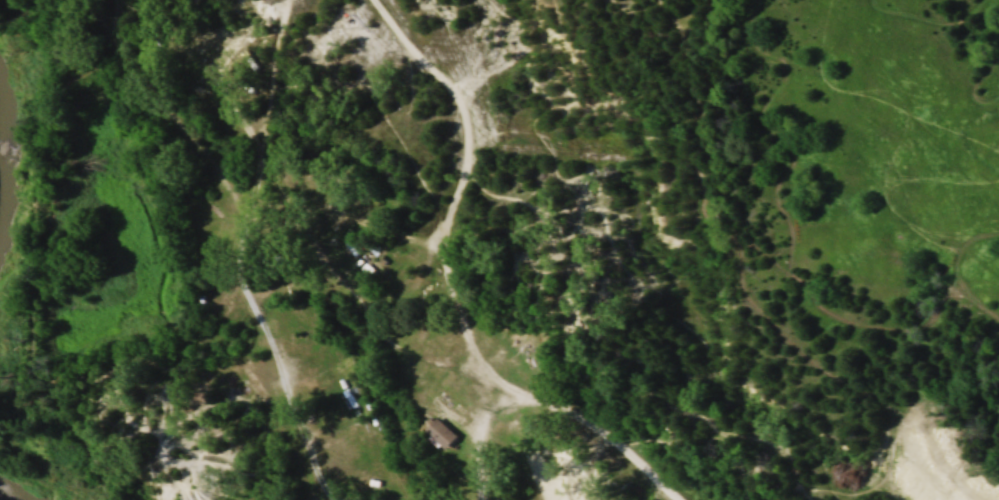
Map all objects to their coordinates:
river: (12, 103)
road: (450, 211)
road: (287, 397)
road: (562, 412)
building: (443, 431)
river: (9, 494)

